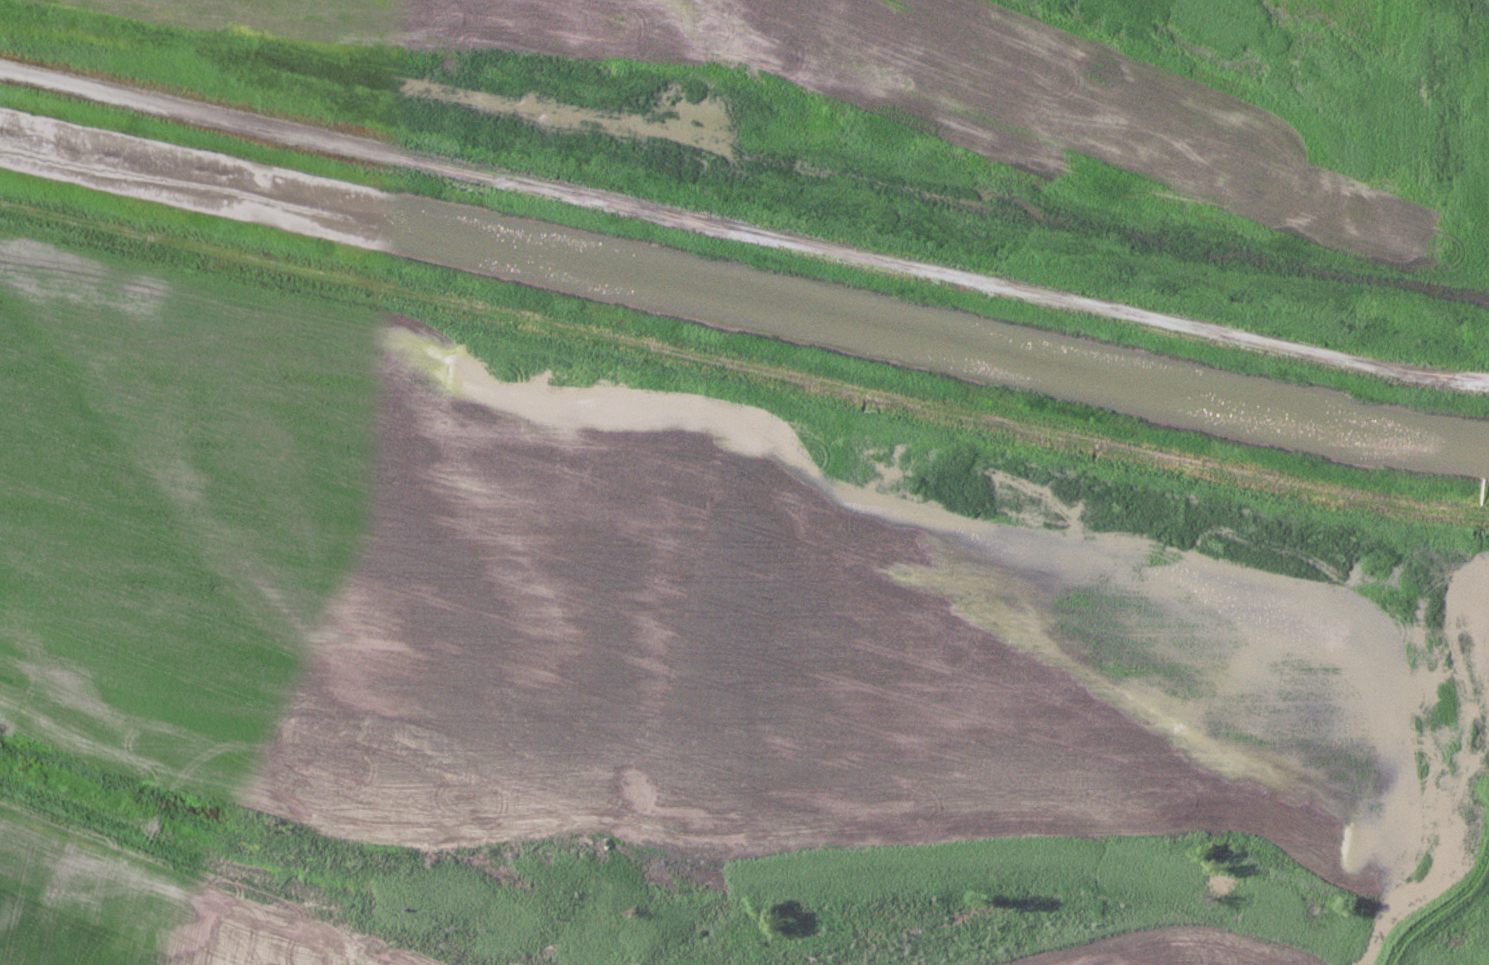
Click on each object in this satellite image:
road: (743, 230)

